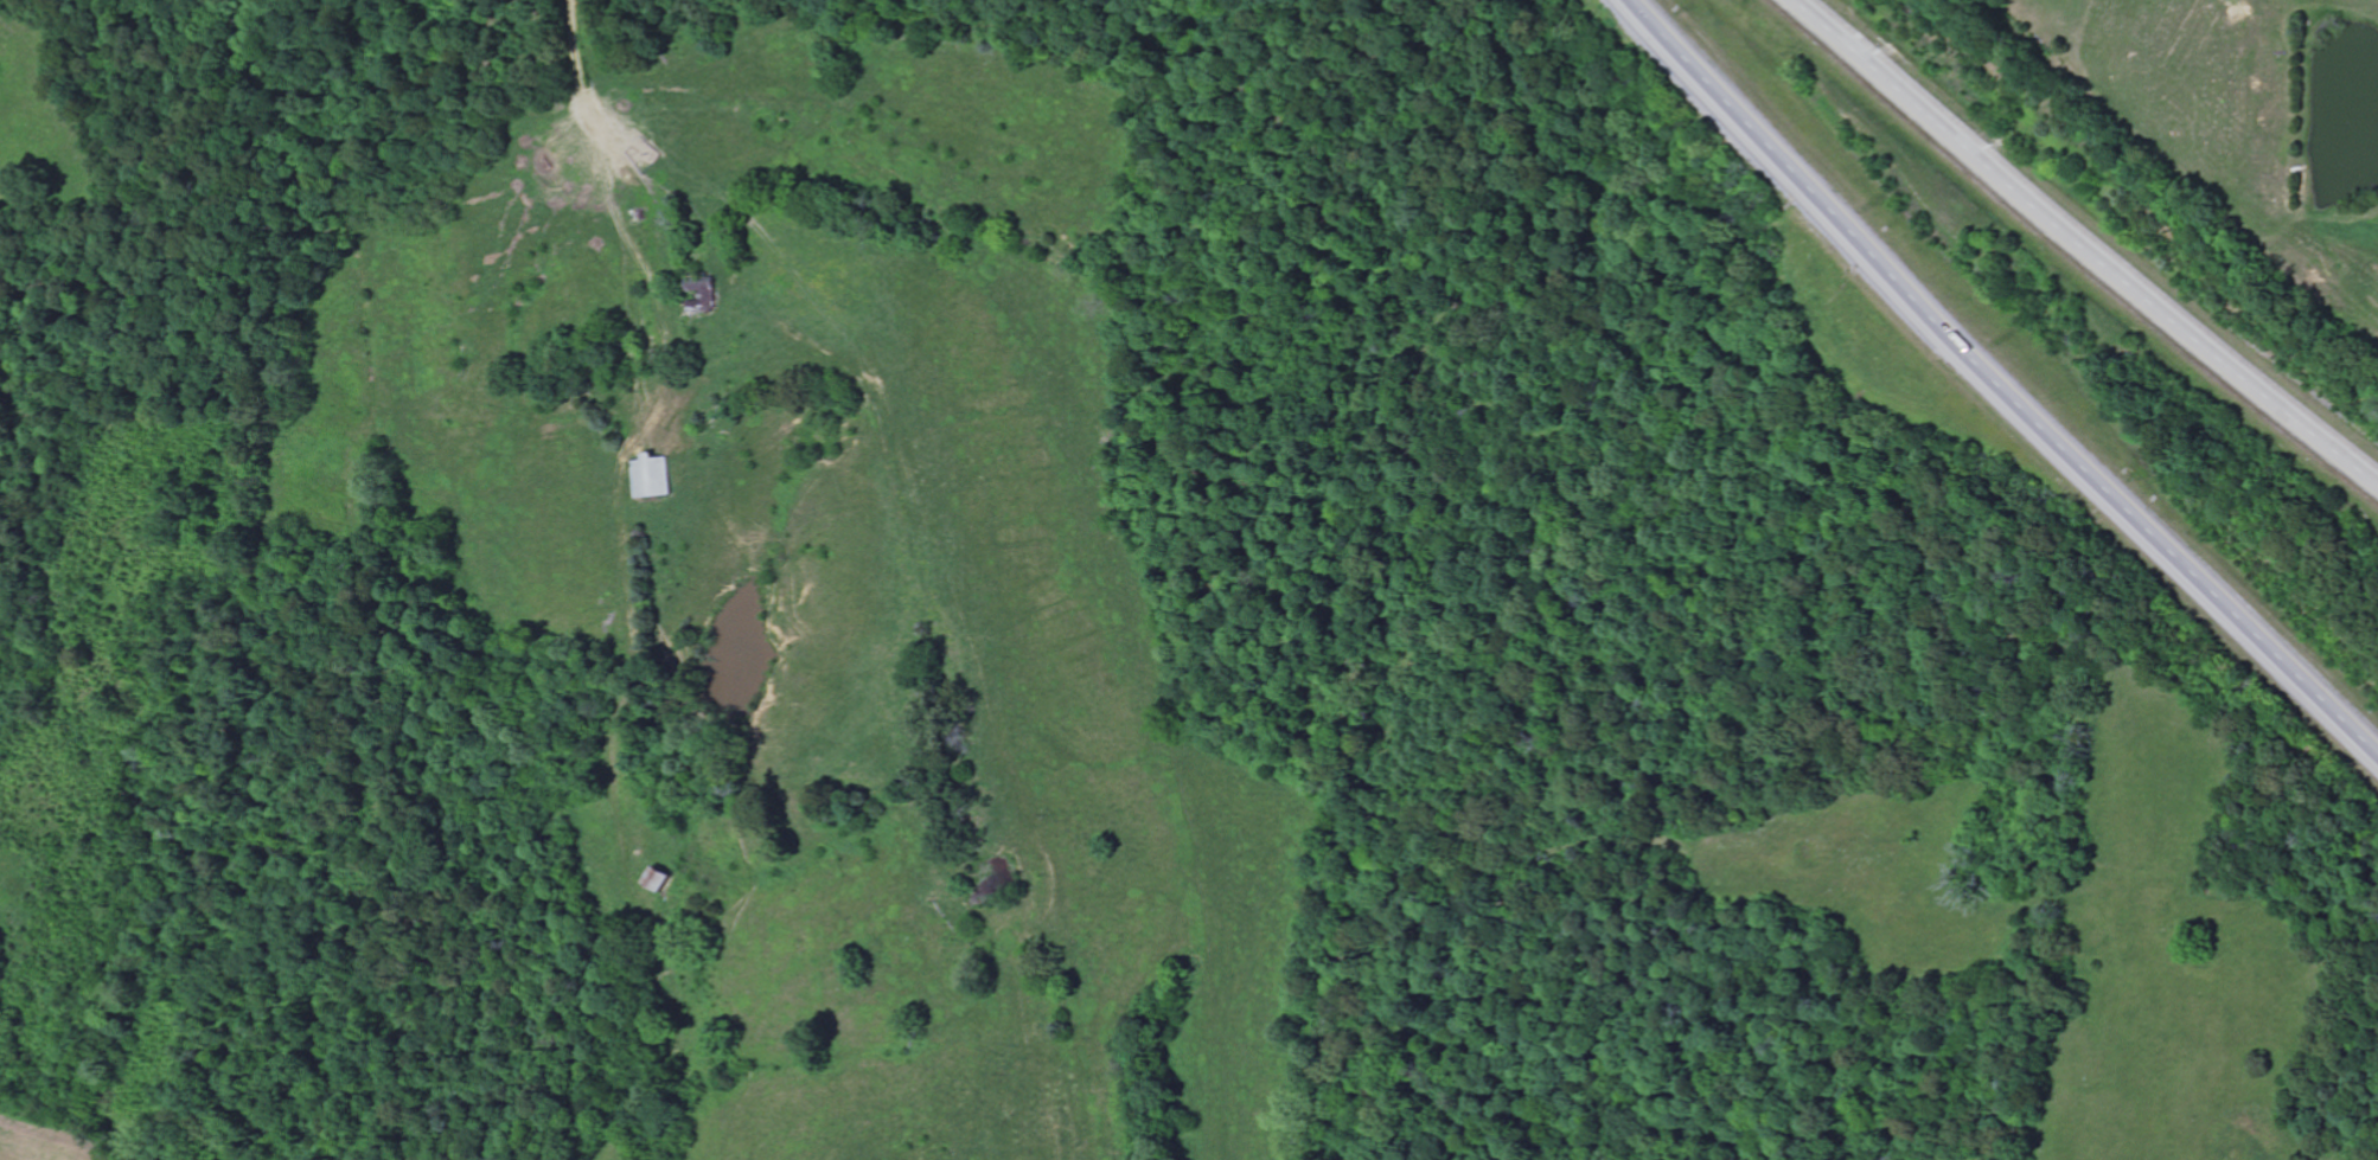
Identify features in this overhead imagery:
road: (616, 103)
road: (2077, 250)
building: (704, 295)
road: (2000, 384)
building: (654, 478)
building: (663, 884)

